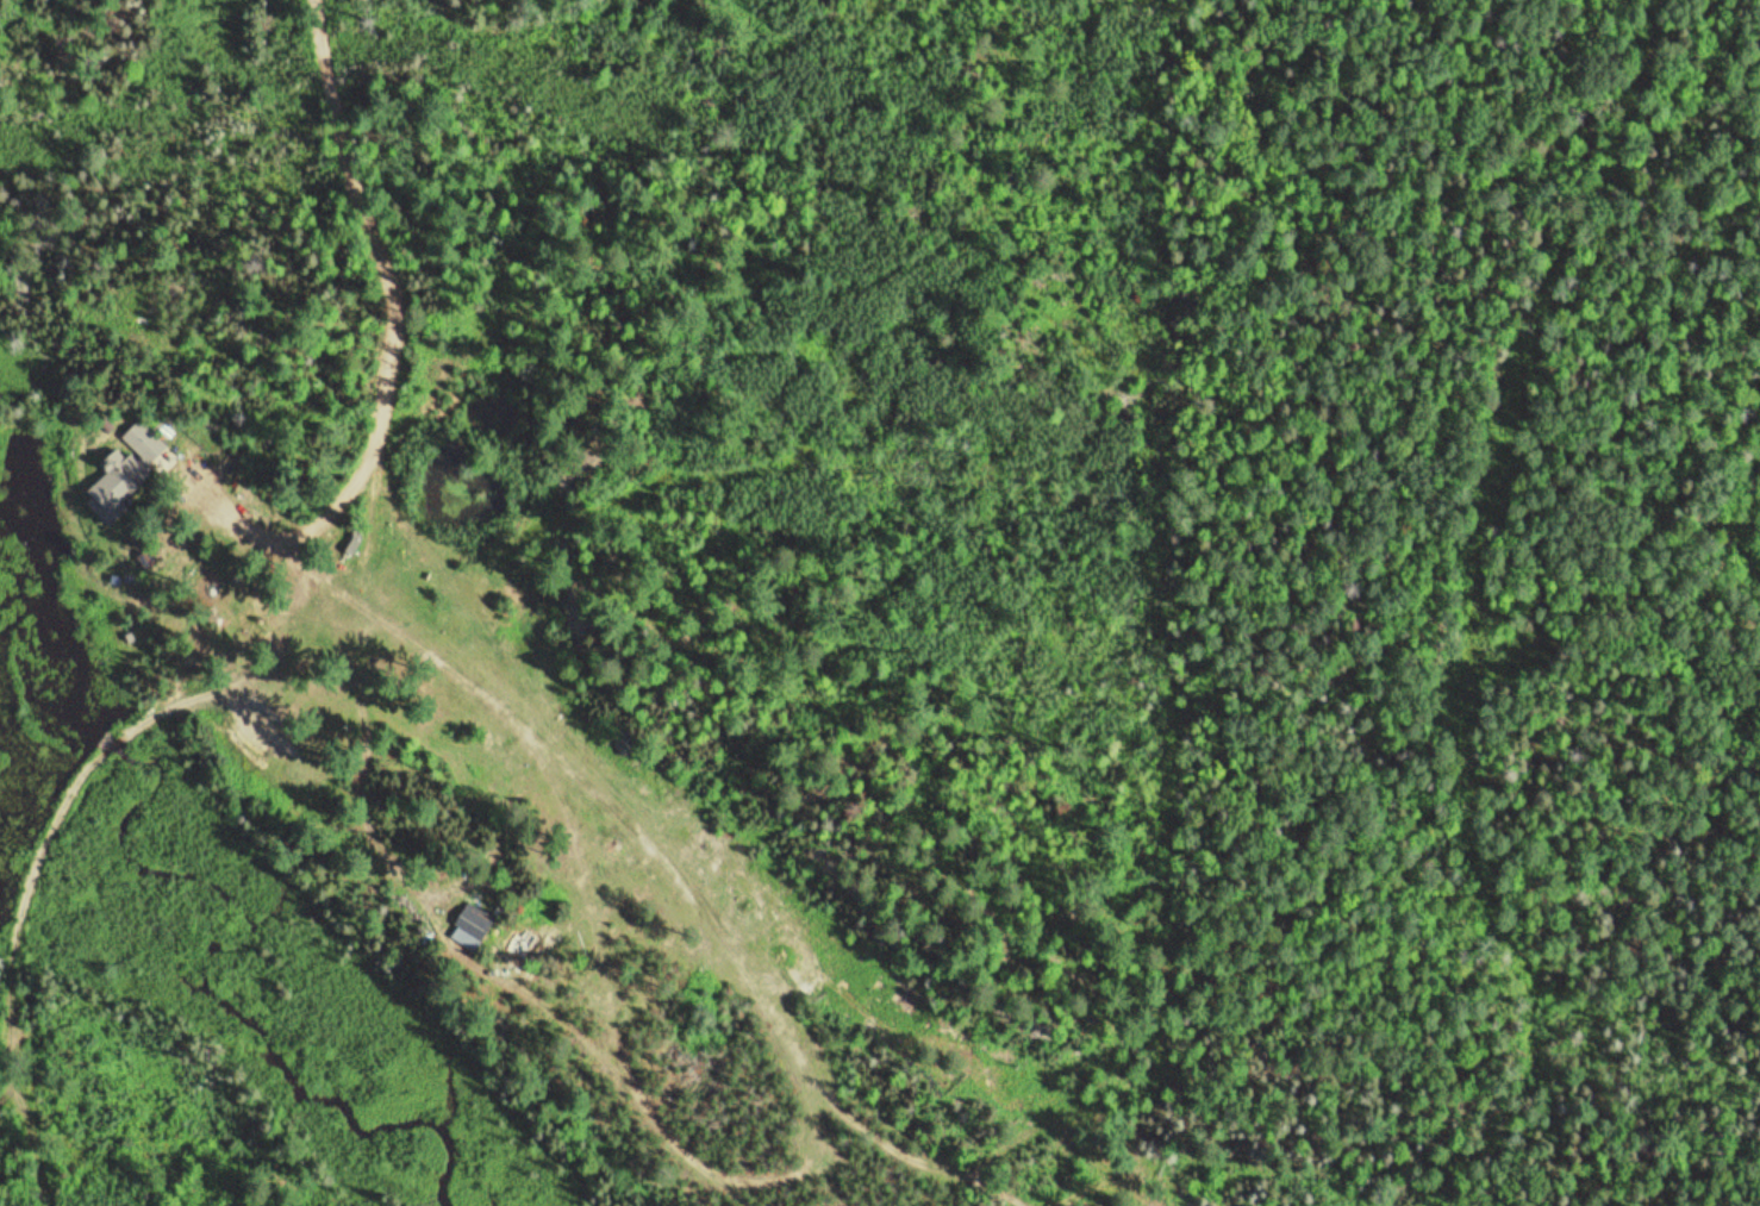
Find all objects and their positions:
road: (366, 461)
building: (129, 470)
building: (476, 920)
road: (10, 1001)

